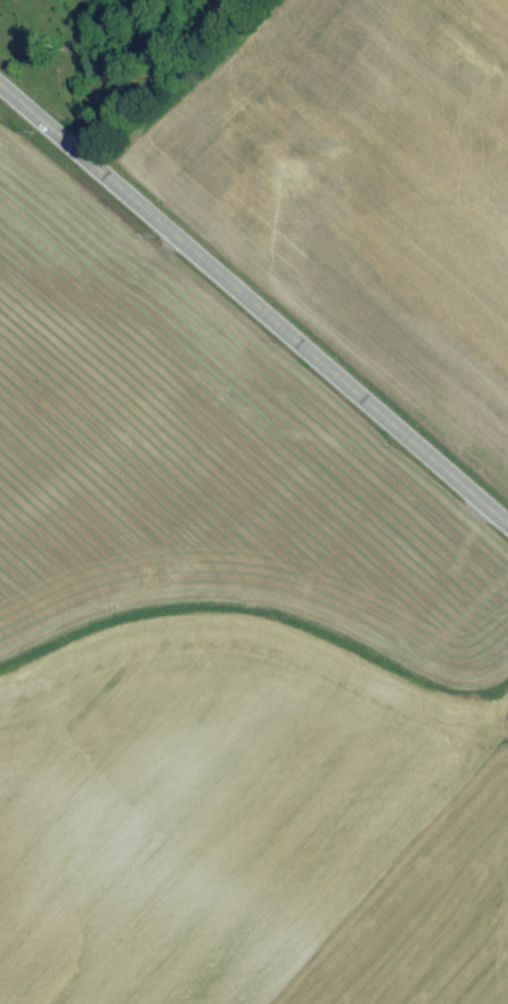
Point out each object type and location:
road: (254, 313)

